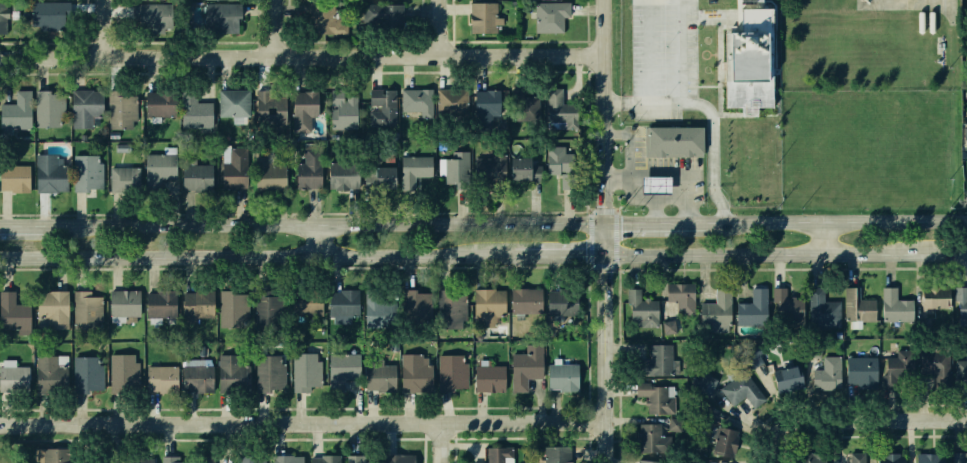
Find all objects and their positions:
building: (204, 0)
building: (550, 15)
building: (8, 16)
building: (50, 16)
building: (393, 17)
building: (157, 18)
building: (327, 18)
building: (485, 18)
building: (225, 19)
road: (273, 28)
road: (437, 28)
road: (101, 29)
road: (301, 57)
road: (681, 59)
building: (745, 60)
building: (966, 92)
building: (455, 99)
building: (418, 100)
building: (491, 101)
building: (236, 102)
building: (526, 103)
building: (164, 105)
building: (88, 107)
building: (51, 108)
building: (308, 108)
building: (386, 108)
building: (123, 109)
building: (272, 109)
building: (198, 110)
building: (560, 110)
building: (21, 111)
building: (347, 111)
road: (709, 115)
building: (965, 133)
building: (111, 134)
building: (966, 138)
building: (672, 141)
building: (121, 148)
building: (561, 154)
building: (458, 167)
building: (486, 167)
building: (239, 168)
building: (421, 168)
building: (521, 169)
building: (966, 169)
building: (314, 170)
building: (89, 172)
building: (164, 172)
building: (53, 173)
building: (272, 174)
building: (348, 175)
building: (391, 176)
building: (18, 177)
building: (199, 177)
road: (618, 178)
building: (127, 179)
building: (650, 182)
road: (632, 194)
road: (654, 212)
road: (832, 225)
traffic signals: (606, 227)
road: (652, 227)
road: (302, 228)
road: (605, 231)
road: (823, 241)
road: (313, 242)
road: (254, 256)
road: (784, 257)
road: (556, 259)
traffic signals: (603, 261)
road: (695, 268)
building: (680, 298)
building: (932, 298)
building: (524, 301)
building: (305, 302)
building: (414, 302)
building: (201, 303)
building: (561, 303)
building: (127, 304)
building: (164, 304)
building: (342, 304)
building: (236, 305)
building: (269, 305)
building: (894, 305)
building: (961, 305)
building: (91, 306)
building: (488, 306)
building: (787, 306)
building: (857, 307)
building: (56, 308)
building: (450, 309)
building: (639, 309)
building: (716, 310)
building: (753, 310)
building: (823, 311)
building: (374, 312)
building: (17, 314)
building: (669, 327)
building: (814, 351)
building: (753, 357)
building: (658, 362)
building: (935, 362)
building: (526, 366)
building: (898, 368)
building: (961, 369)
building: (339, 370)
building: (862, 370)
building: (304, 371)
building: (50, 372)
building: (267, 372)
building: (412, 372)
building: (827, 372)
building: (450, 373)
building: (122, 374)
building: (231, 374)
building: (86, 375)
building: (195, 377)
building: (378, 377)
building: (561, 377)
building: (13, 378)
building: (488, 378)
building: (789, 379)
building: (162, 380)
building: (705, 384)
building: (742, 389)
building: (656, 399)
road: (841, 406)
building: (704, 408)
road: (898, 419)
road: (305, 421)
road: (784, 424)
building: (674, 426)
road: (861, 435)
building: (649, 436)
road: (445, 441)
road: (106, 442)
building: (723, 442)
building: (554, 454)
building: (52, 455)
building: (497, 455)
building: (204, 458)
building: (808, 458)
building: (855, 458)
building: (889, 458)
building: (930, 458)
building: (957, 458)
building: (356, 459)
building: (399, 459)
building: (176, 460)
building: (248, 460)
building: (285, 460)
building: (323, 460)
building: (647, 461)
building: (138, 462)
building: (701, 462)

